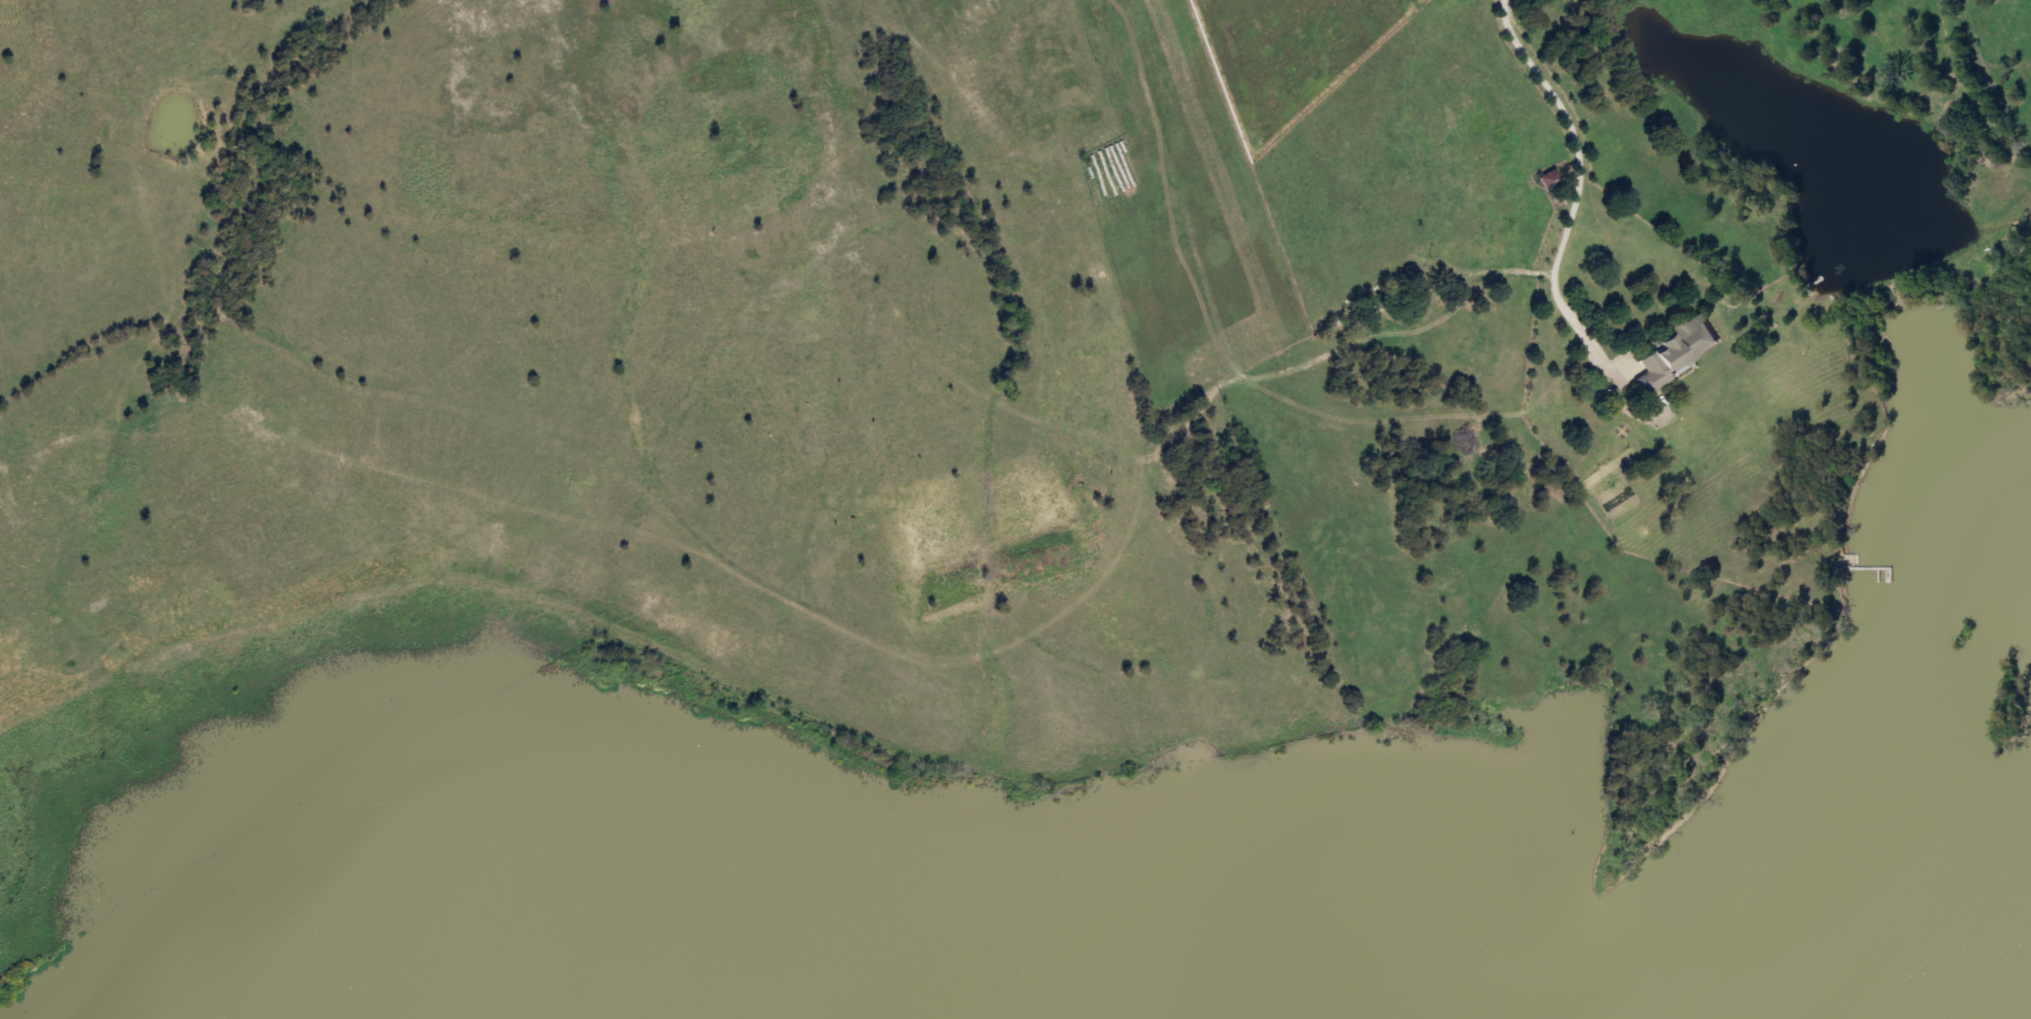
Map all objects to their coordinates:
road: (1969, 93)
building: (1550, 179)
building: (1675, 350)

